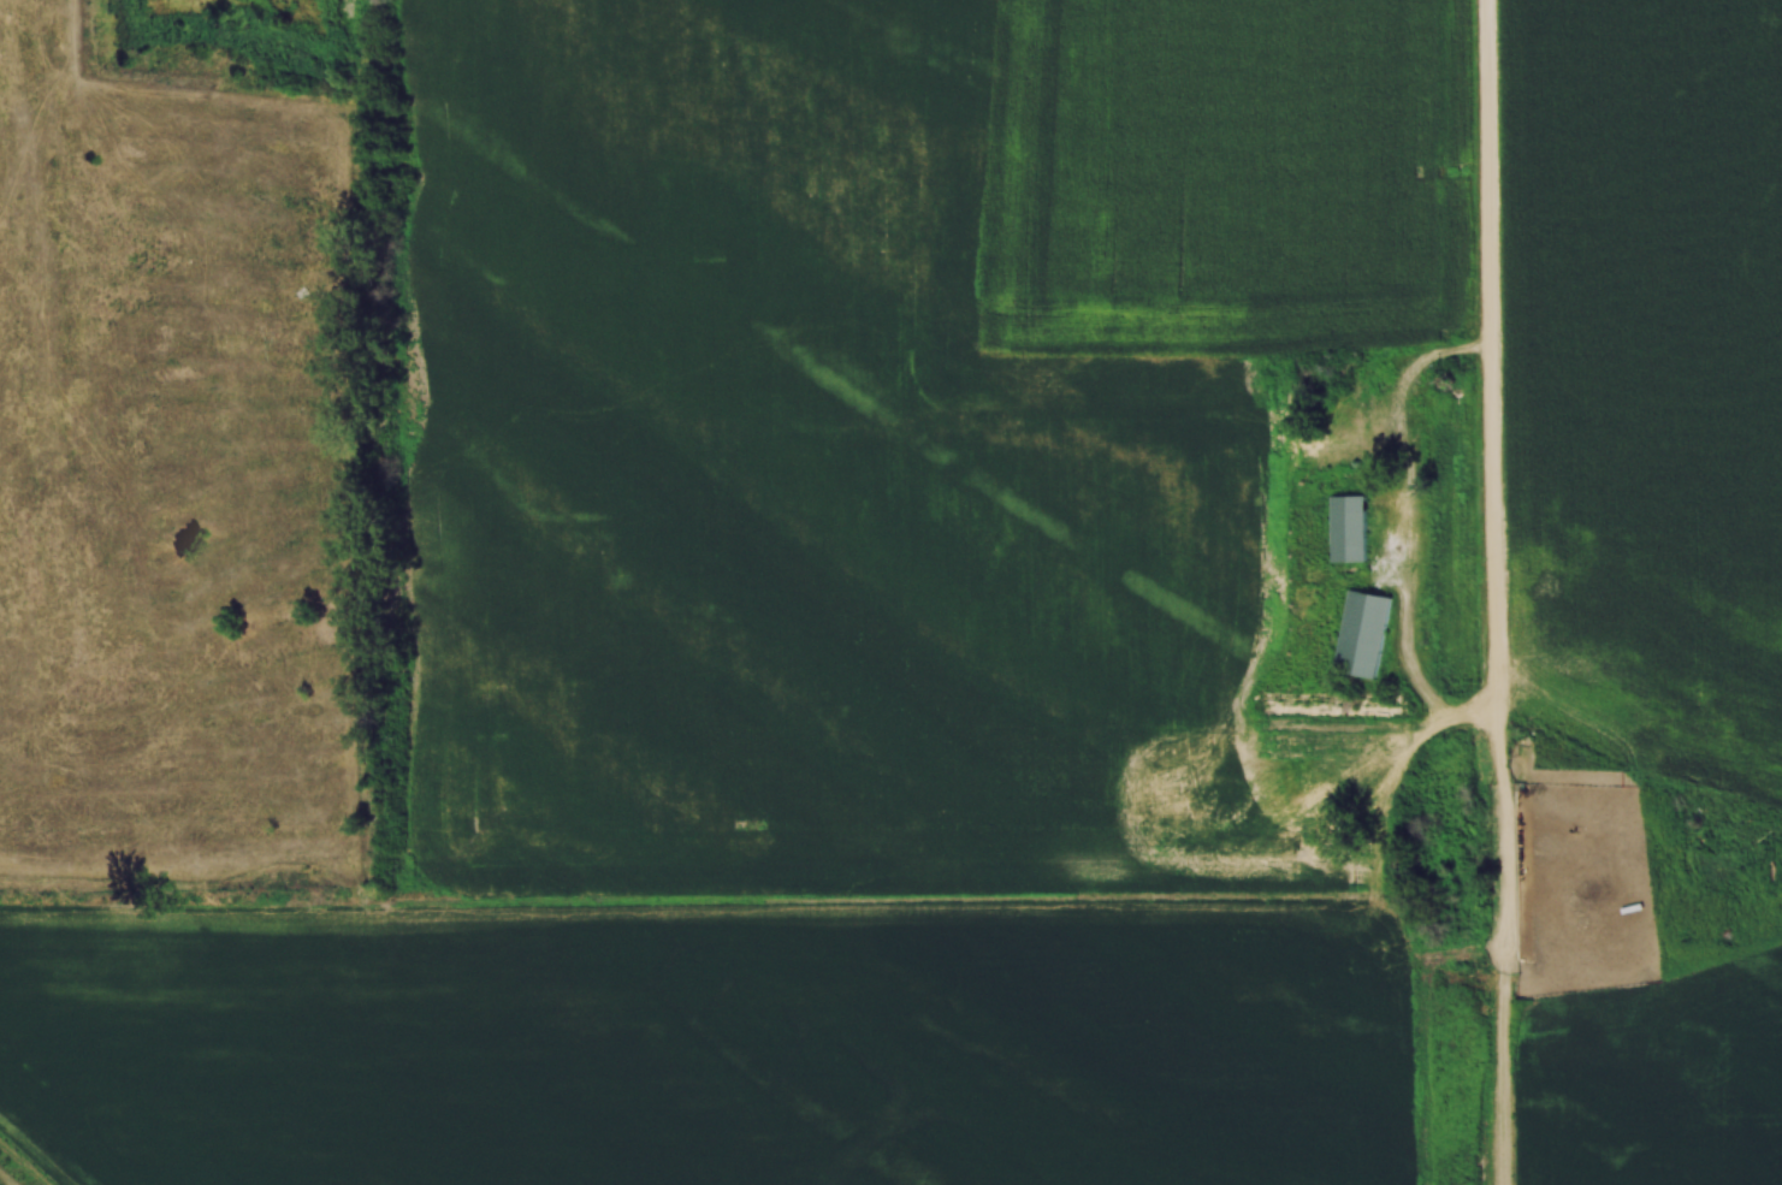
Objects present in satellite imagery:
road: (1494, 592)

